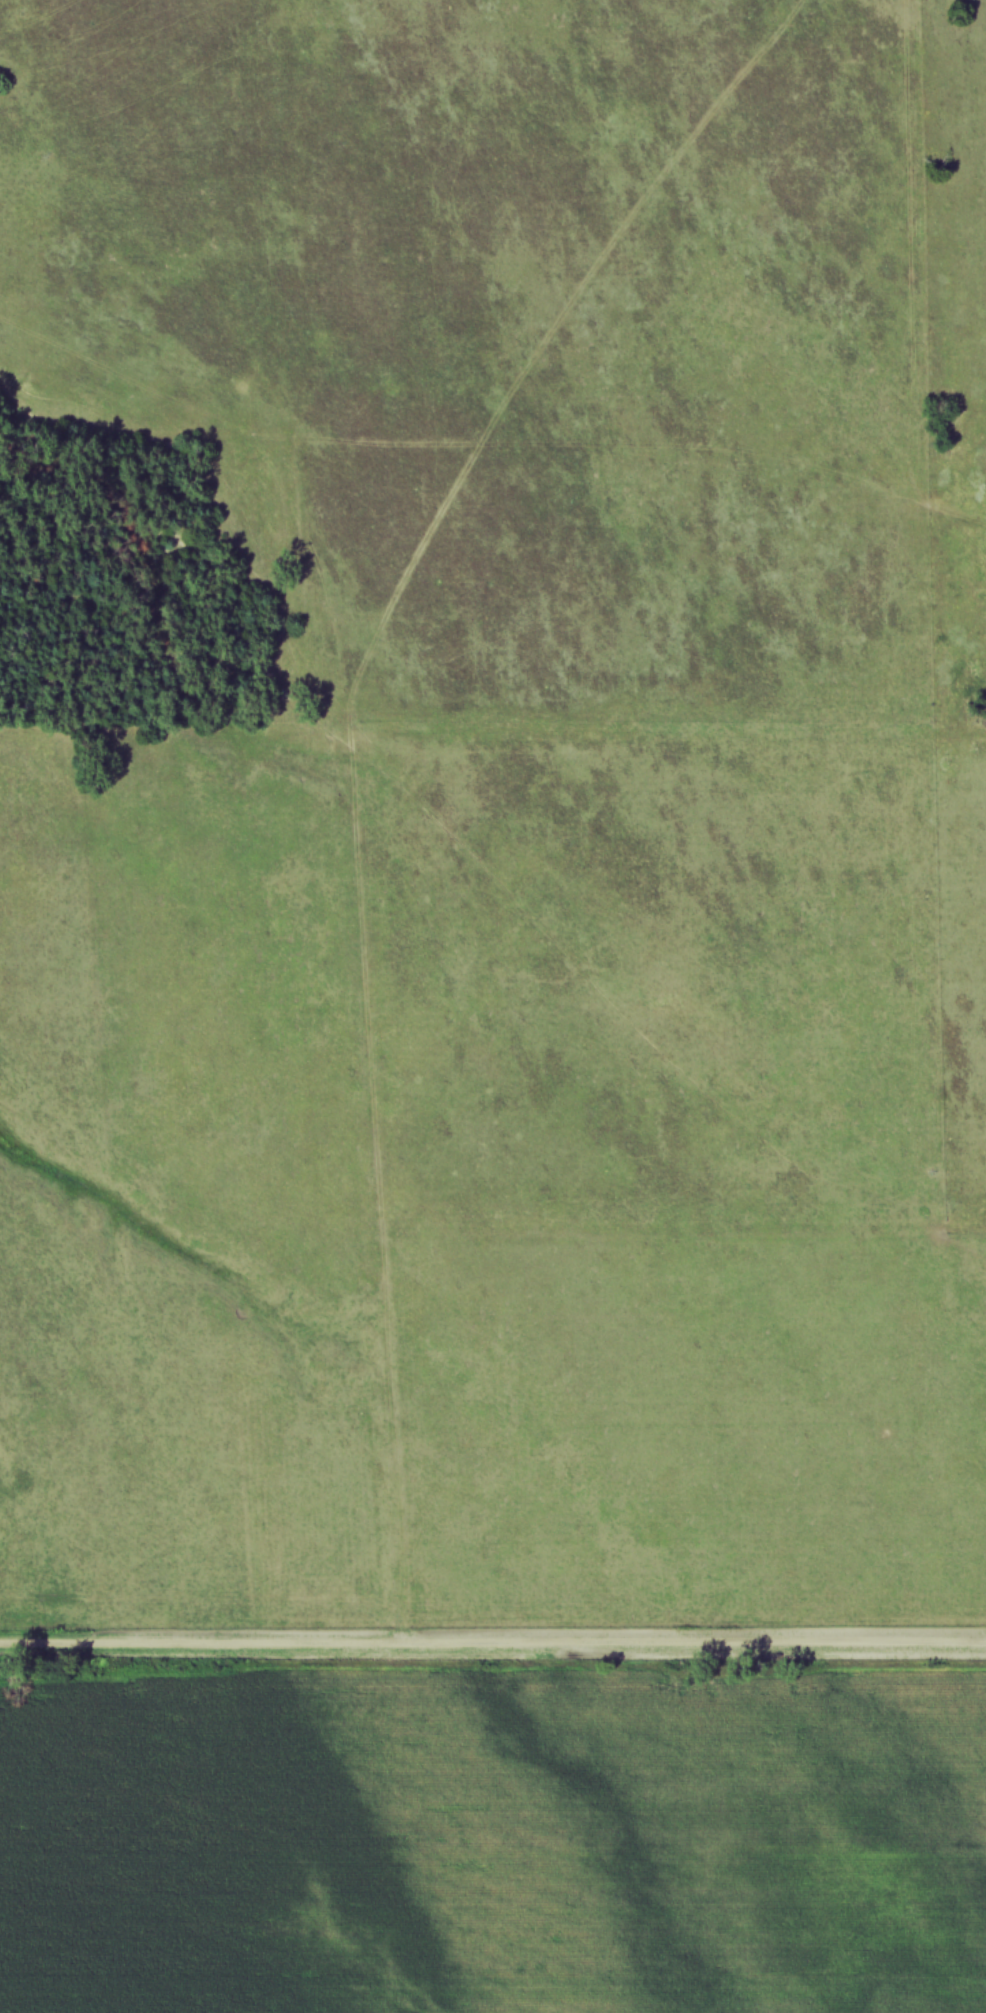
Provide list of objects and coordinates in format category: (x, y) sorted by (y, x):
road: (492, 1649)

